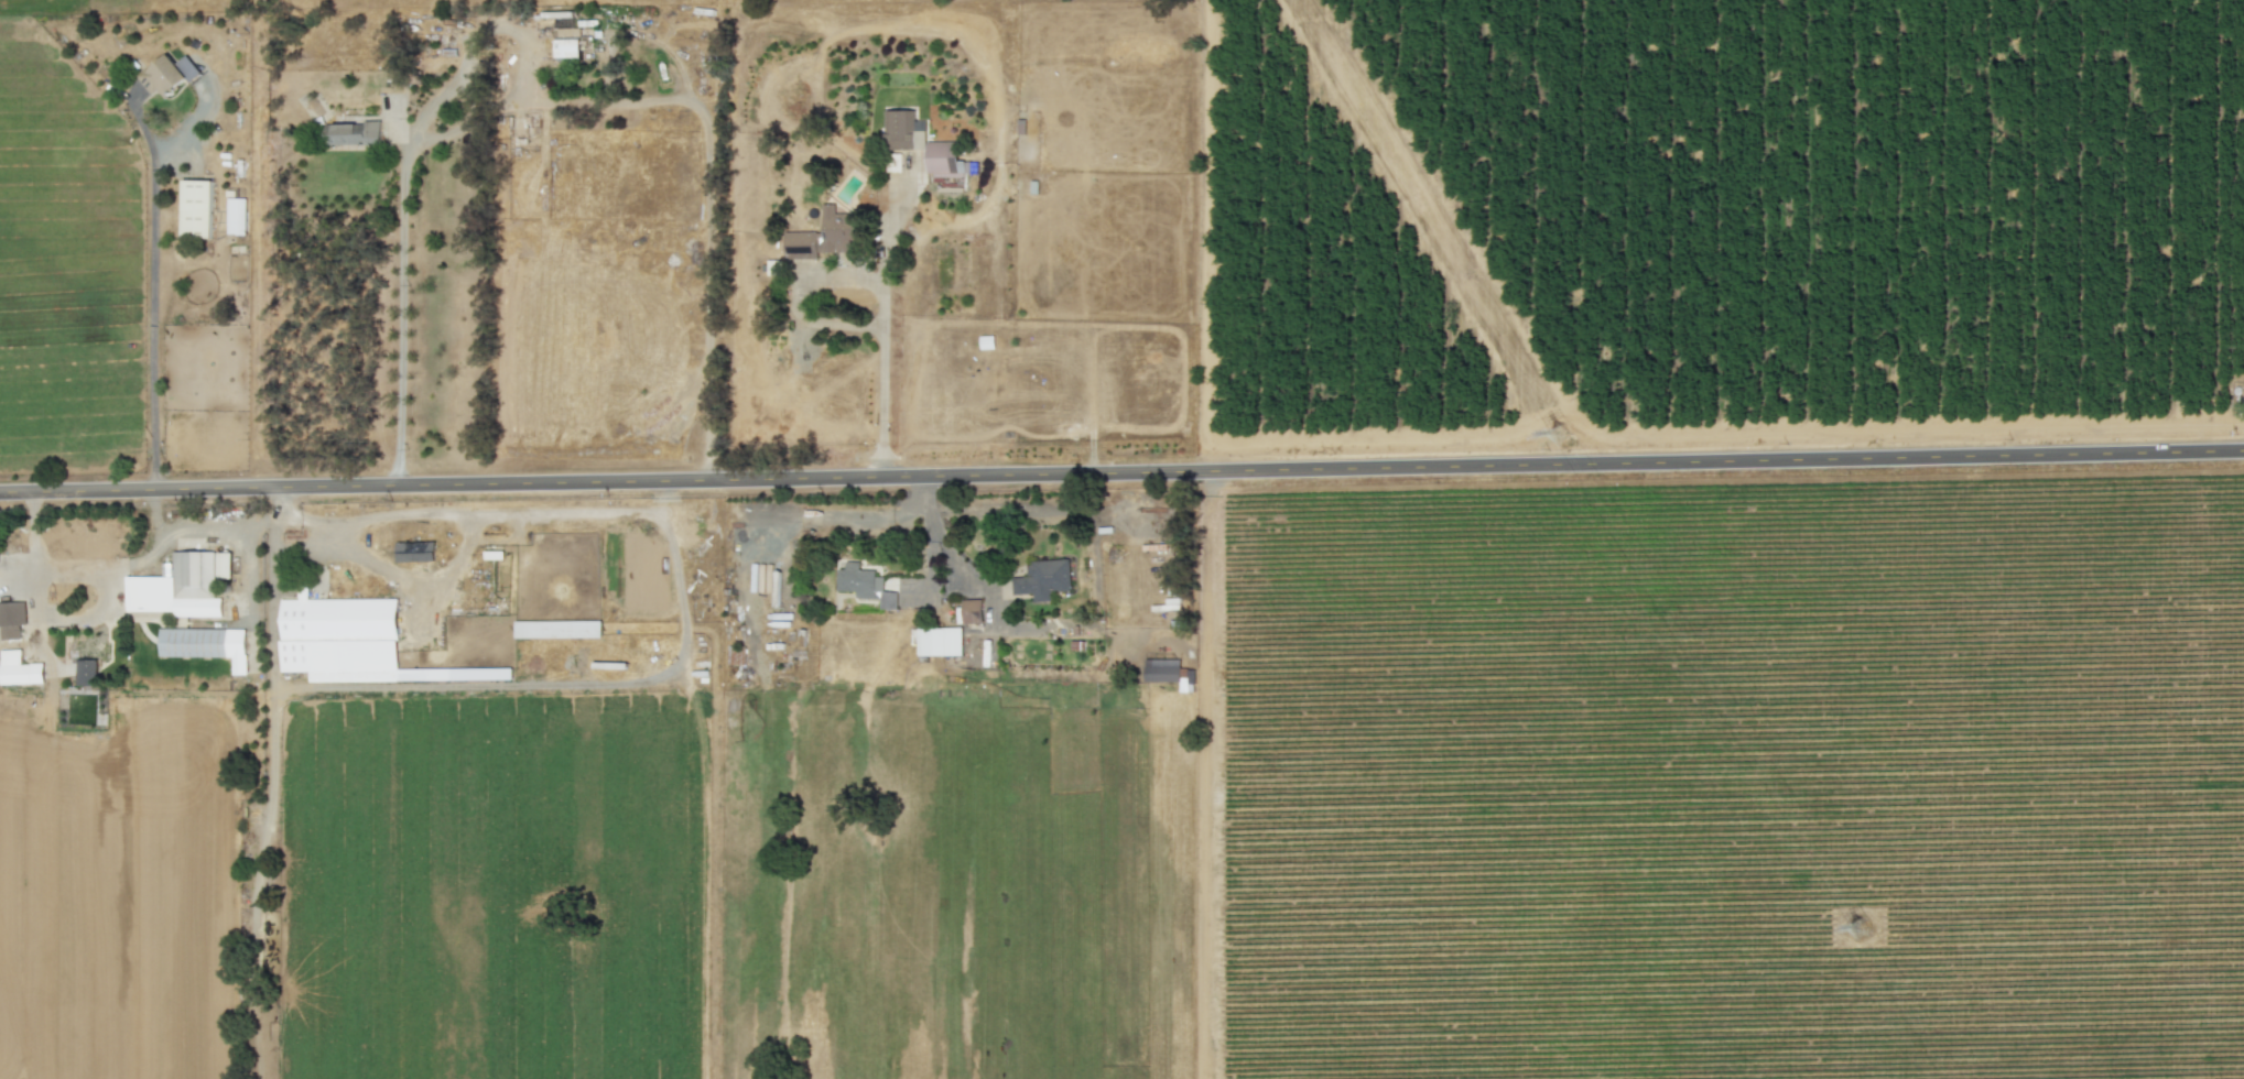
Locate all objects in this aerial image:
building: (568, 43)
building: (170, 75)
road: (524, 83)
road: (467, 96)
road: (470, 118)
building: (902, 130)
building: (354, 132)
building: (946, 163)
building: (196, 208)
building: (236, 216)
building: (824, 236)
building: (773, 266)
road: (153, 288)
road: (882, 313)
building: (997, 341)
power tower: (1551, 428)
road: (1121, 472)
road: (934, 528)
building: (224, 565)
building: (1043, 578)
building: (864, 582)
building: (178, 587)
building: (972, 611)
building: (12, 619)
building: (557, 629)
building: (340, 639)
building: (939, 641)
building: (206, 644)
building: (87, 658)
building: (19, 668)
road: (271, 783)
power tower: (1853, 930)

